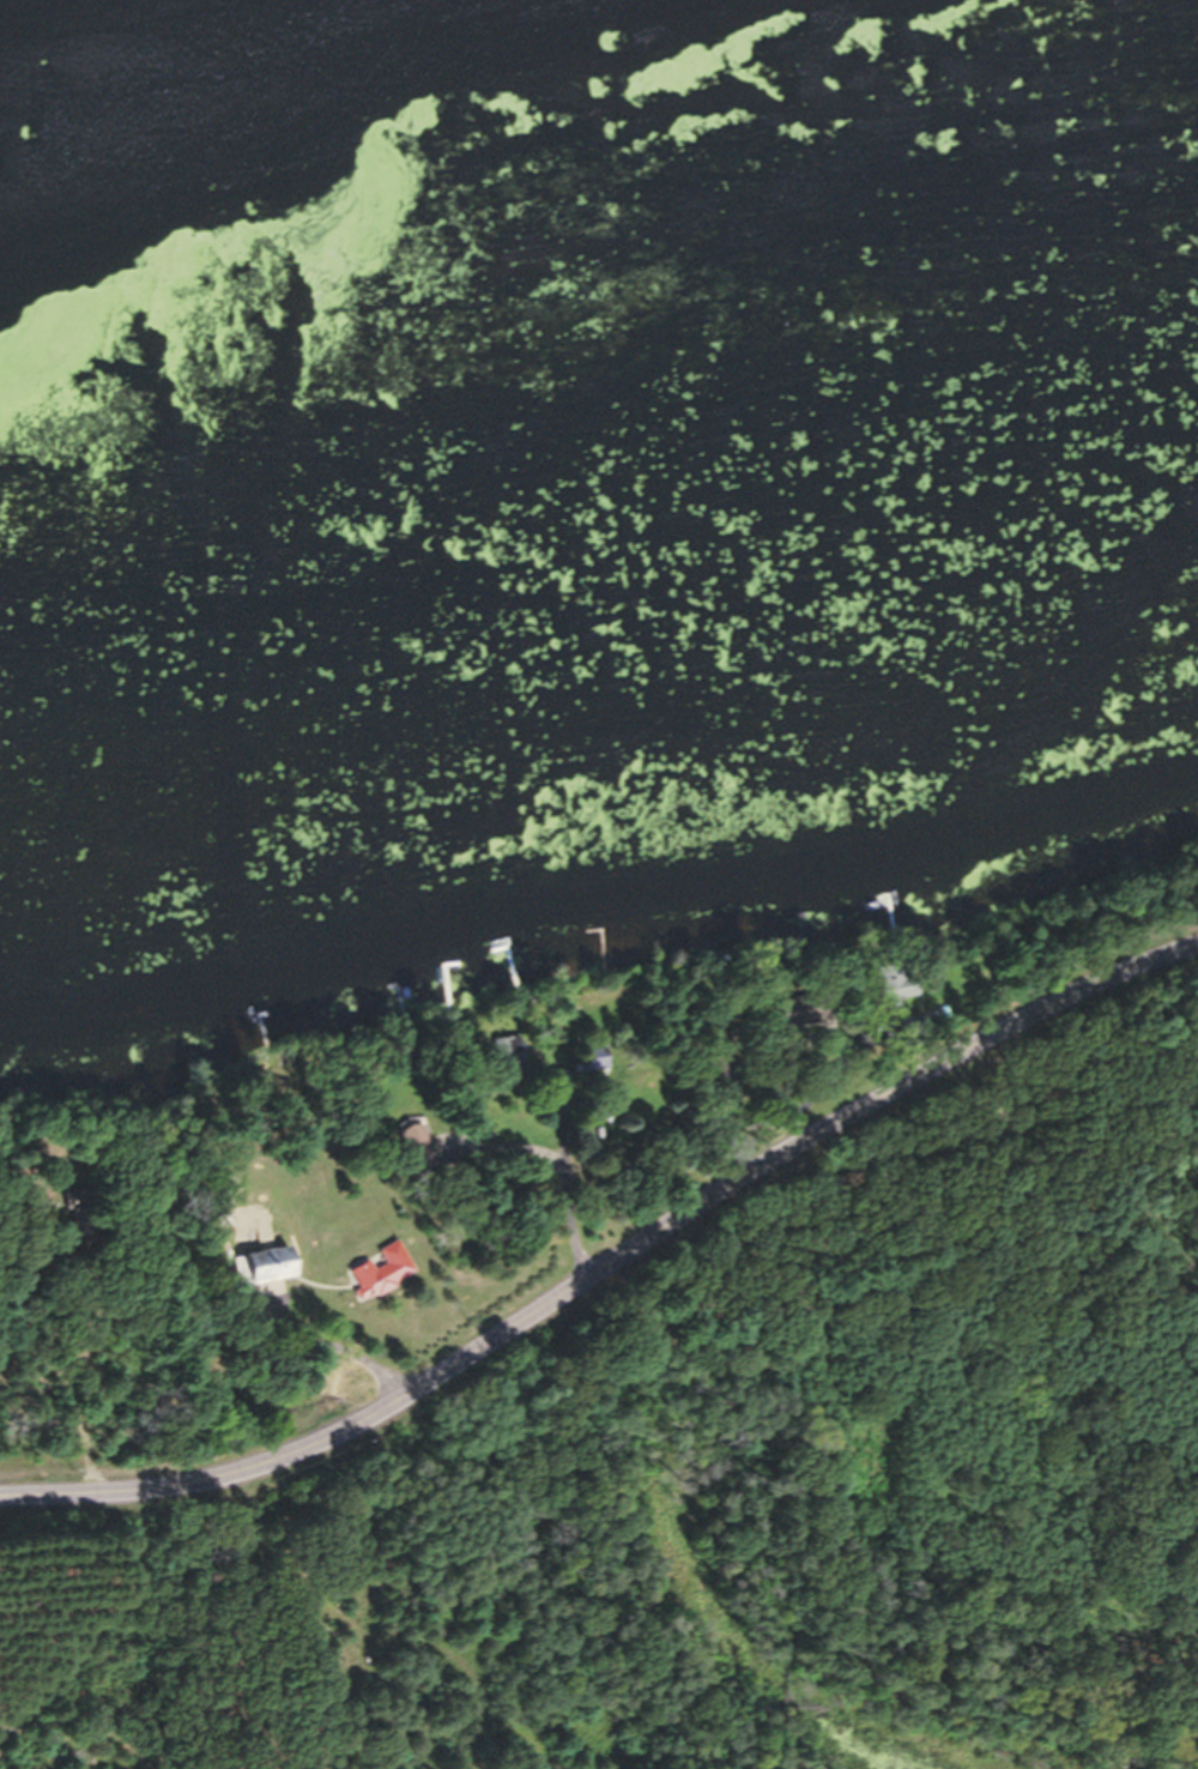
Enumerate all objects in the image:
building: (512, 1063)
building: (416, 1157)
road: (609, 1258)
building: (259, 1273)
building: (379, 1278)

